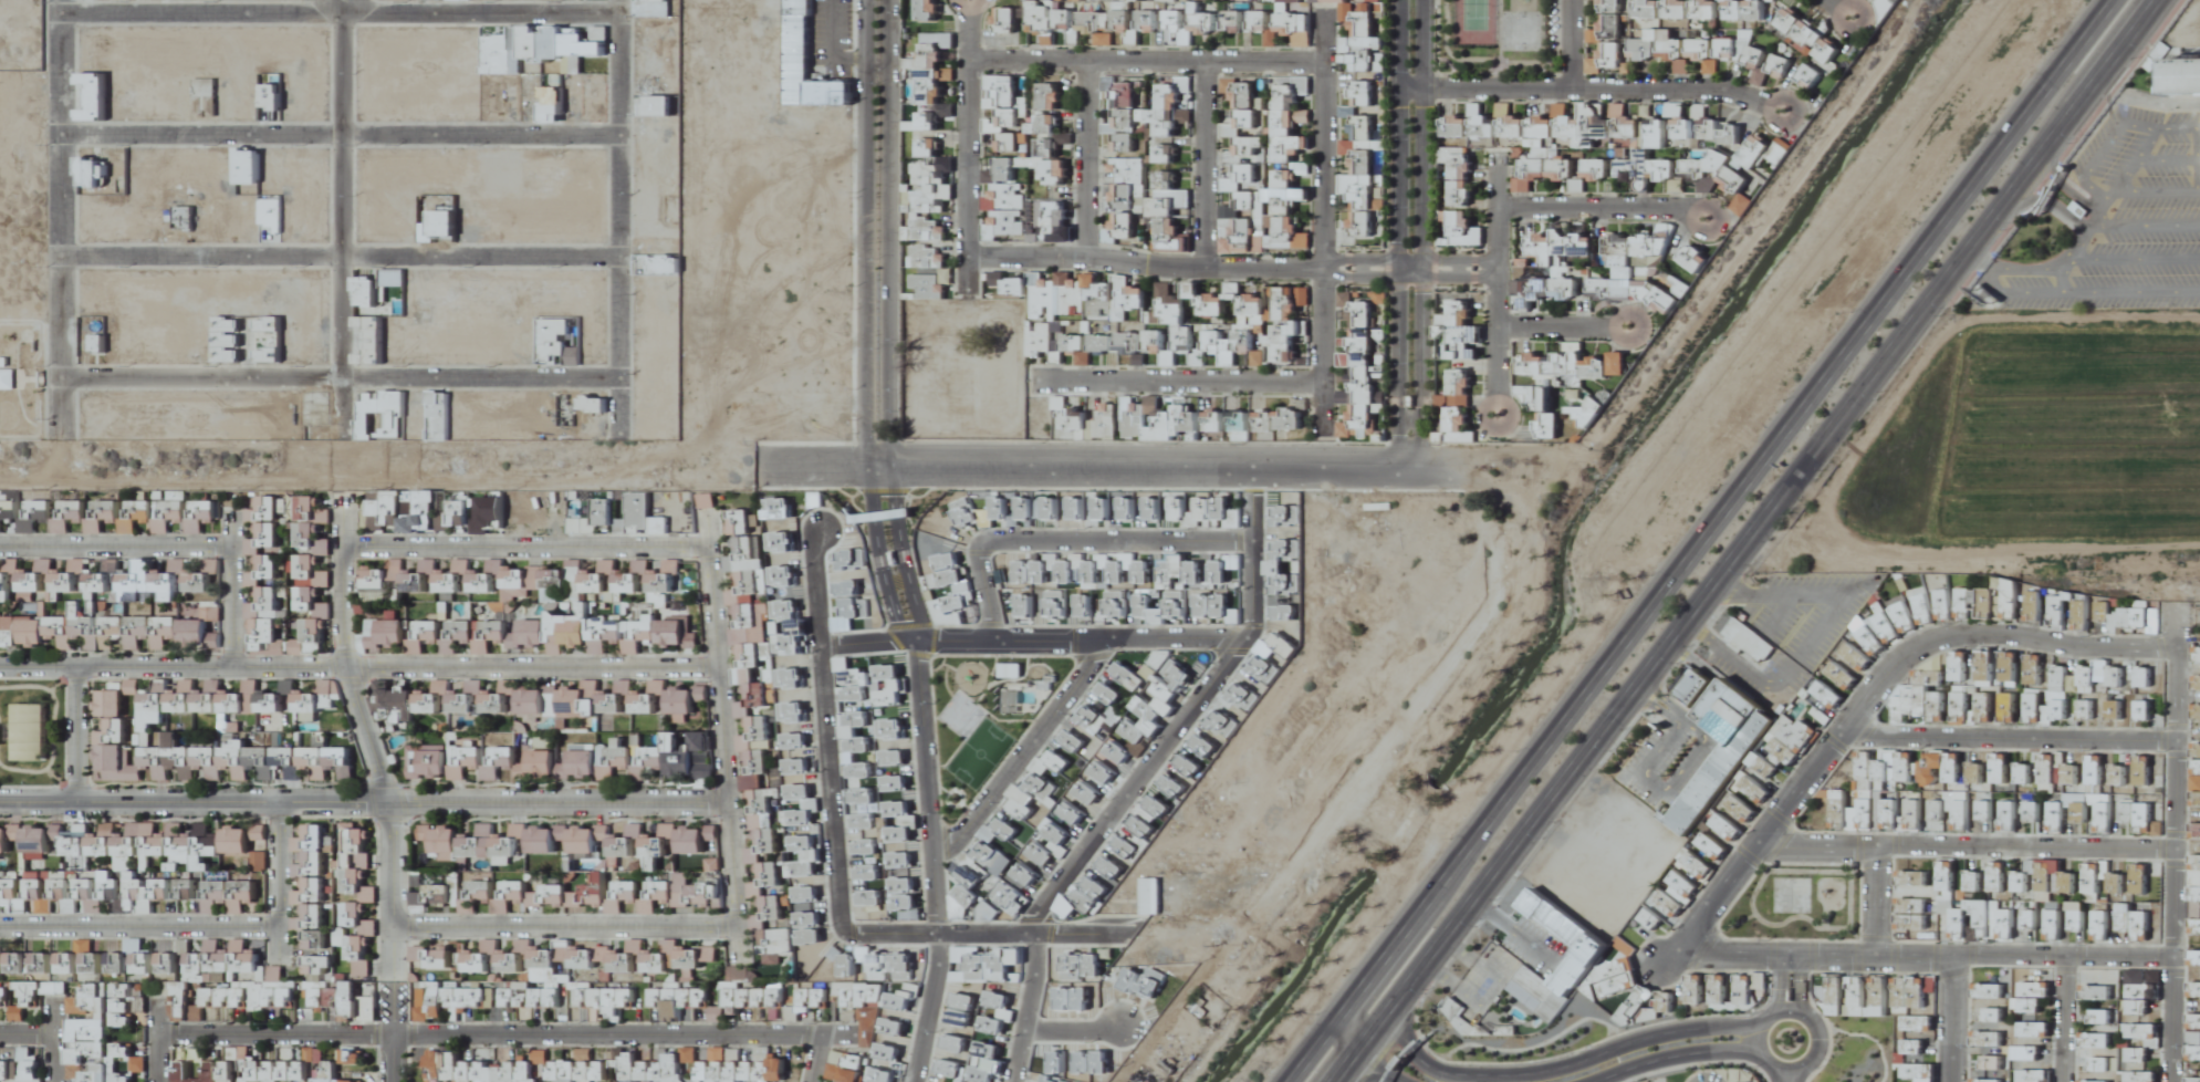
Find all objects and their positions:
park: (987, 716)
park: (33, 728)
park: (1798, 904)
park: (1860, 1048)

